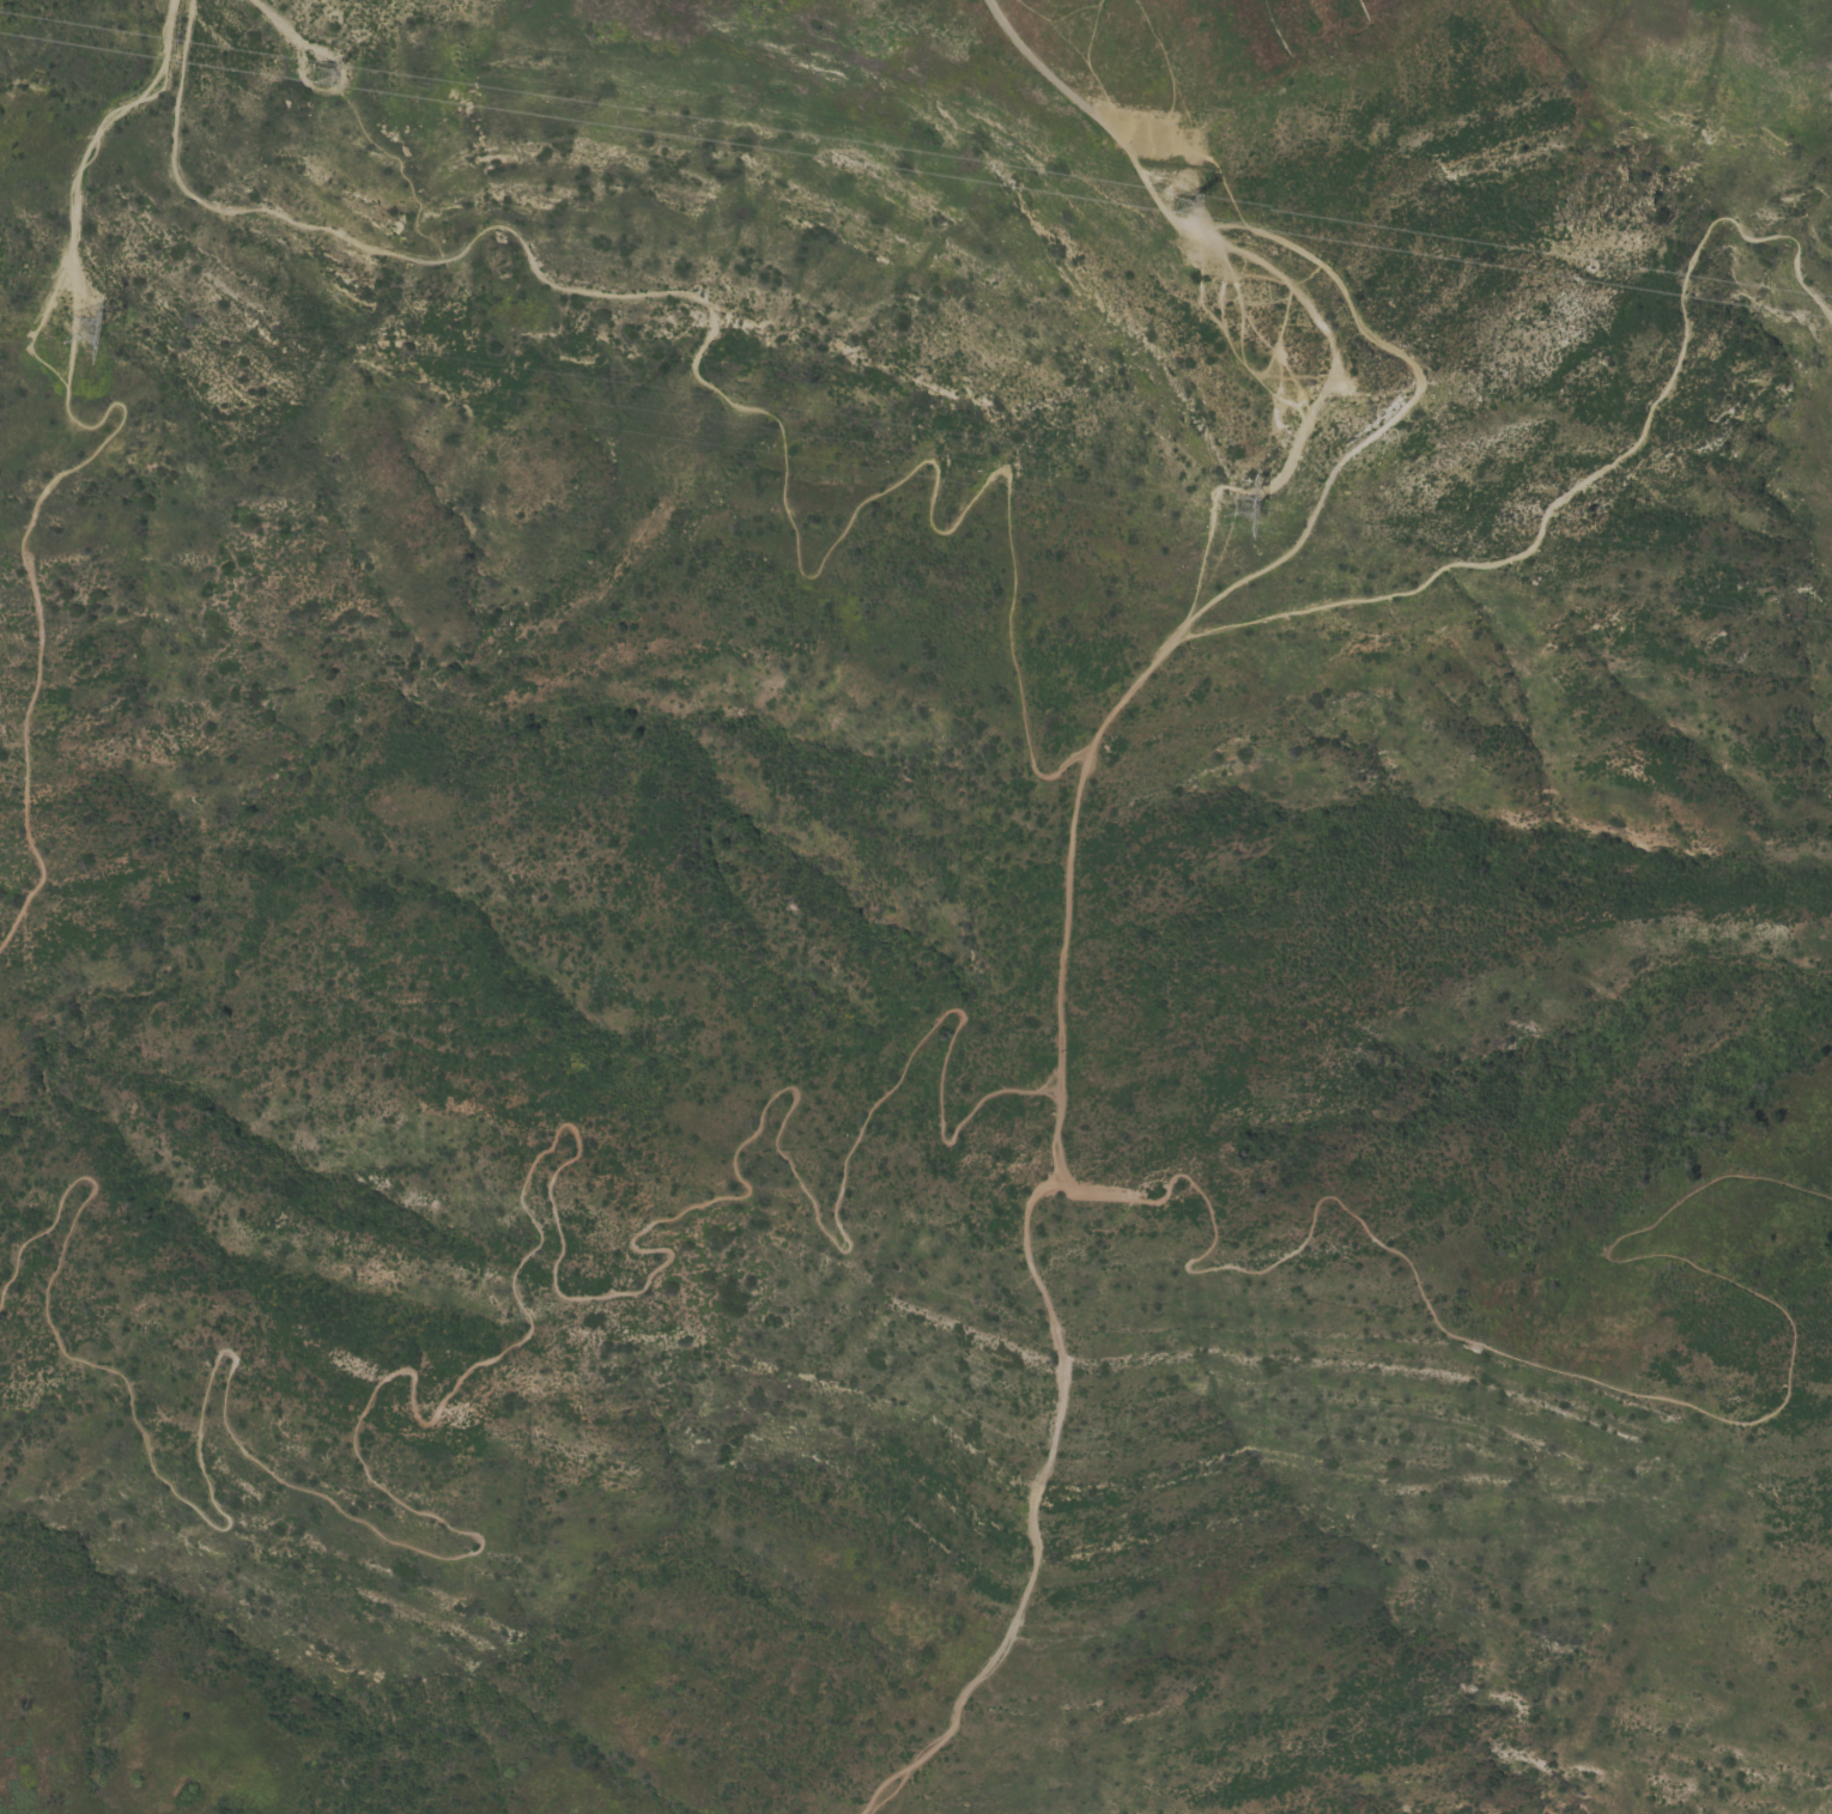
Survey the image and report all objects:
road: (271, 20)
power tower: (328, 59)
road: (1086, 68)
road: (1048, 79)
road: (338, 80)
road: (1124, 142)
road: (84, 152)
road: (1203, 152)
power tower: (1176, 202)
power tower: (103, 328)
road: (750, 409)
road: (1593, 474)
power tower: (1236, 512)
road: (1205, 542)
road: (26, 575)
road: (1092, 739)
road: (479, 1361)
road: (1564, 1376)

